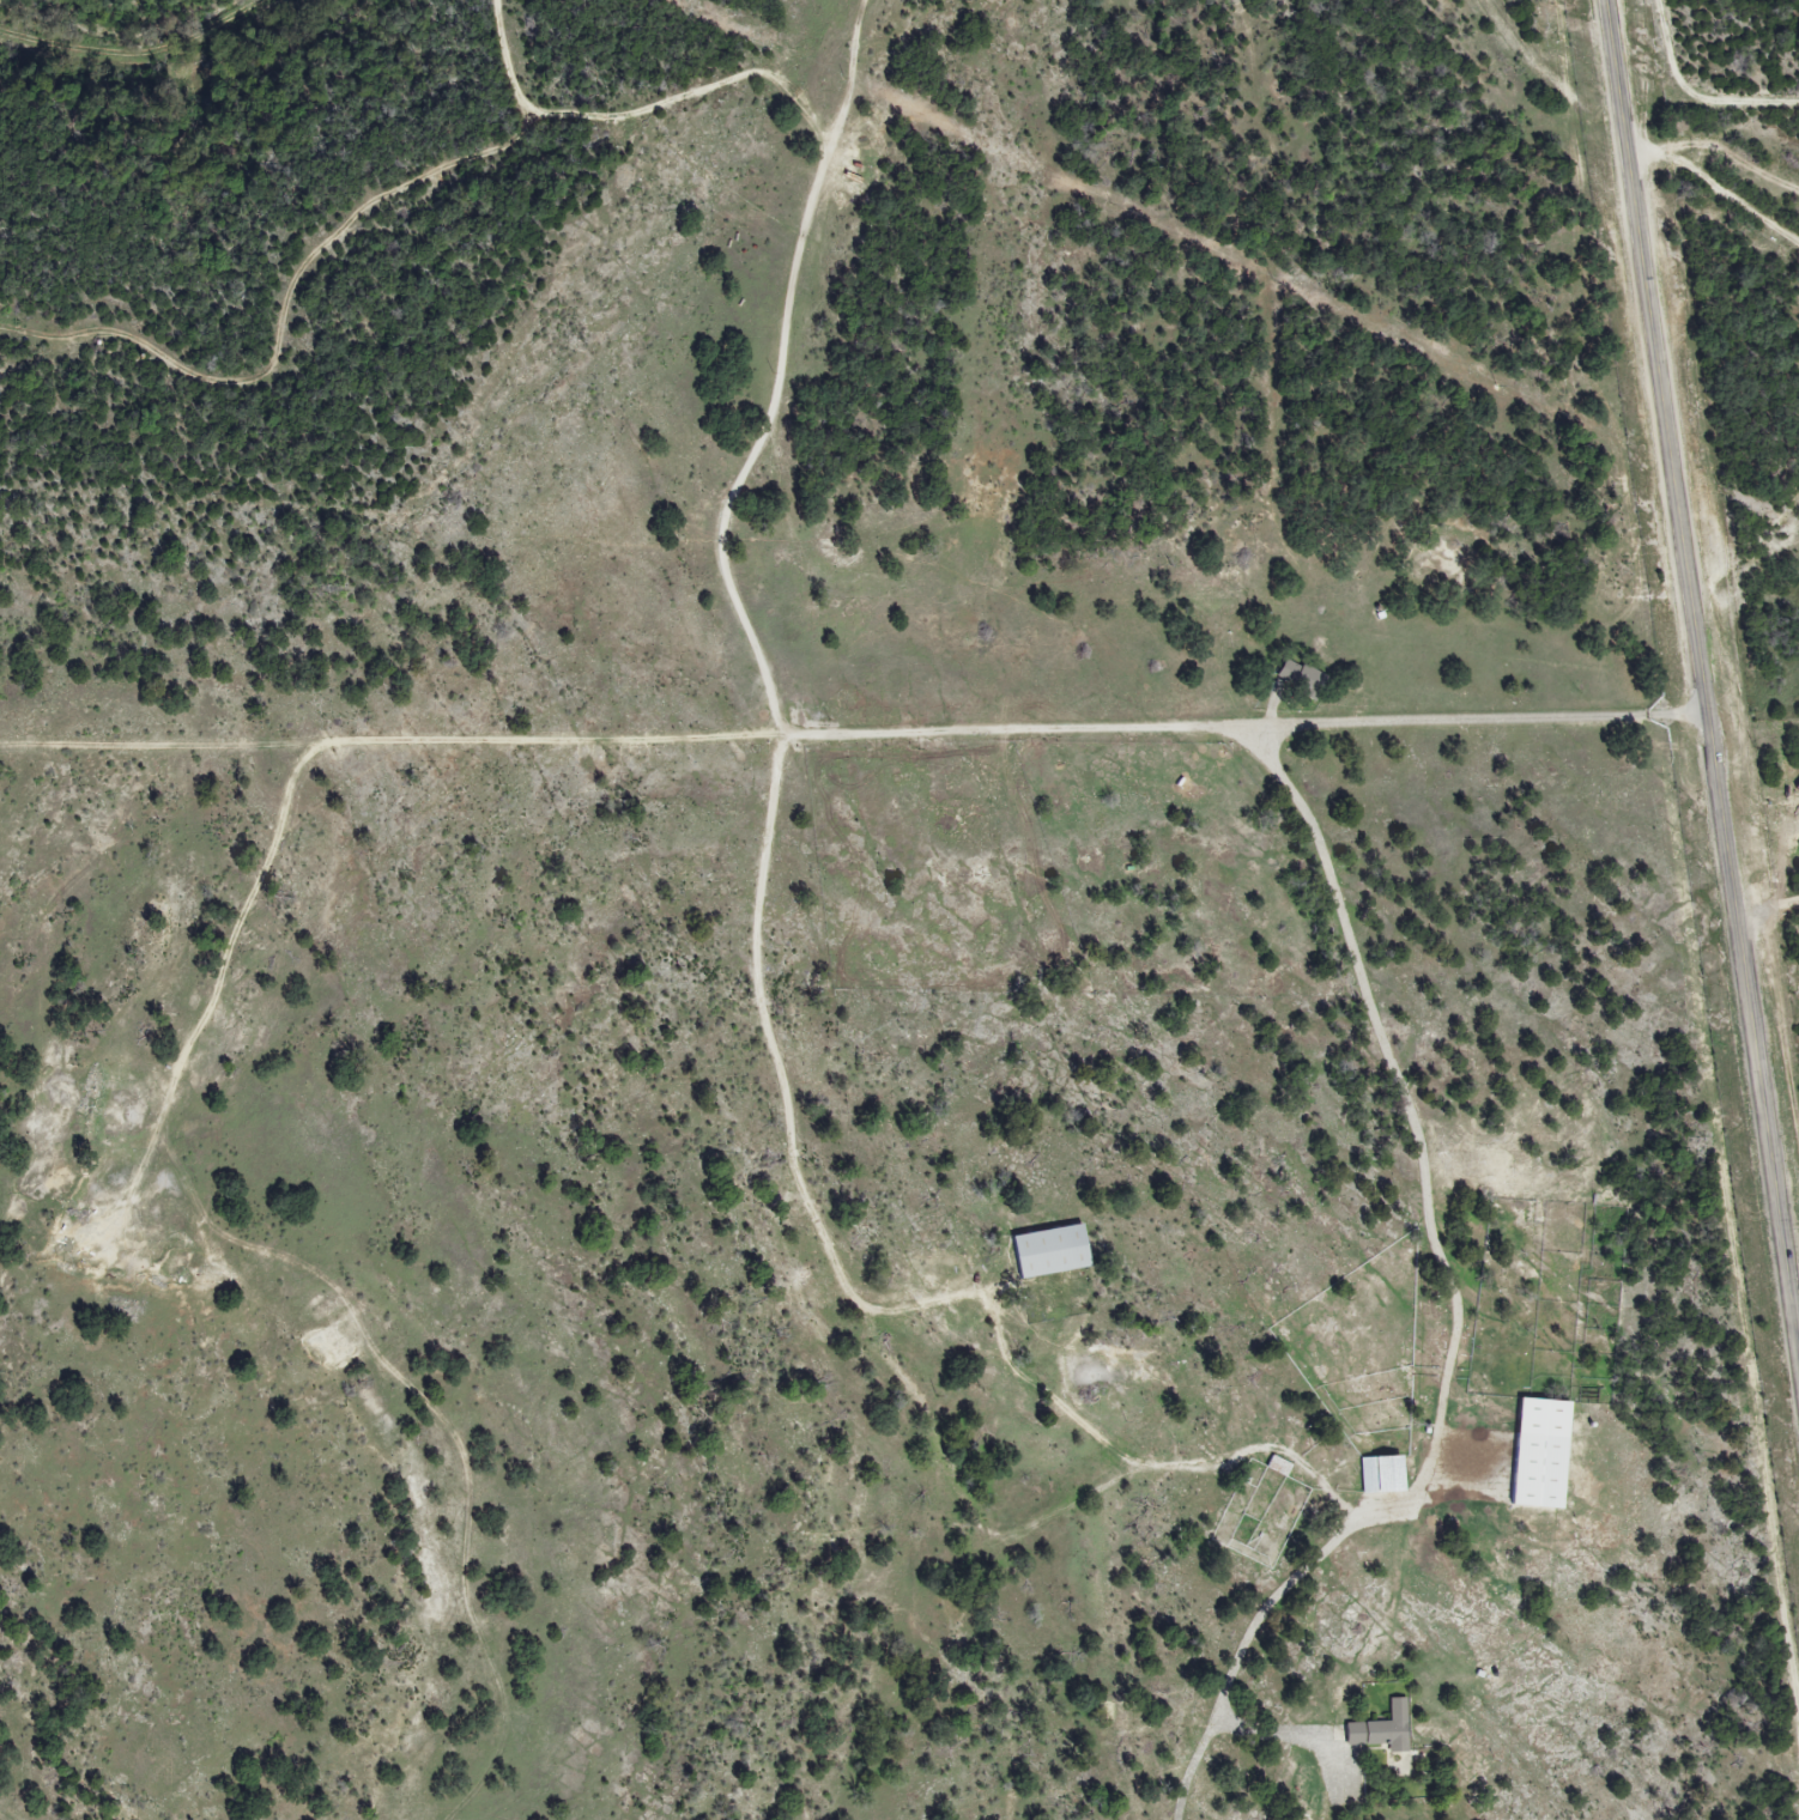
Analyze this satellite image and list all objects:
building: (1300, 677)
road: (1701, 692)
building: (1050, 1251)
building: (1541, 1452)
building: (1382, 1474)
building: (1383, 1729)

